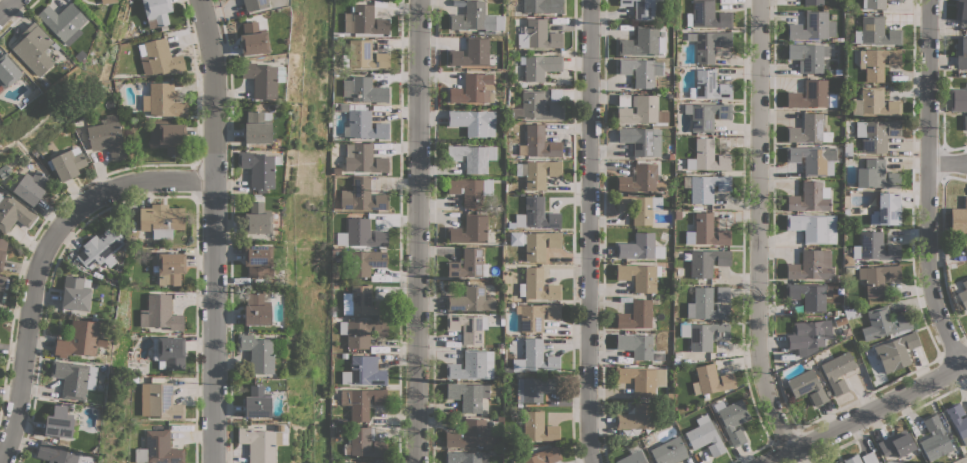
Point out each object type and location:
building: (107, 1)
building: (812, 2)
building: (625, 3)
building: (254, 4)
building: (874, 4)
building: (543, 6)
building: (644, 10)
building: (961, 10)
road: (12, 12)
building: (156, 12)
building: (707, 15)
building: (475, 19)
building: (365, 20)
building: (62, 22)
building: (812, 26)
building: (876, 32)
building: (539, 35)
building: (252, 39)
building: (642, 42)
building: (709, 44)
building: (33, 49)
building: (471, 52)
building: (961, 53)
building: (364, 55)
building: (808, 56)
building: (158, 57)
building: (876, 62)
building: (539, 67)
building: (7, 71)
building: (641, 71)
building: (262, 79)
building: (709, 86)
building: (472, 89)
building: (364, 90)
building: (555, 95)
building: (809, 95)
building: (958, 100)
building: (162, 101)
building: (875, 103)
building: (536, 107)
building: (639, 109)
building: (706, 115)
building: (474, 122)
building: (965, 122)
building: (363, 125)
building: (257, 127)
building: (808, 130)
building: (876, 134)
building: (167, 135)
building: (107, 137)
building: (639, 139)
building: (538, 143)
building: (707, 156)
building: (472, 157)
building: (364, 158)
building: (813, 159)
building: (67, 163)
road: (950, 166)
building: (258, 168)
building: (540, 173)
building: (876, 175)
building: (641, 179)
road: (933, 186)
building: (31, 187)
building: (705, 187)
building: (471, 190)
building: (361, 196)
building: (809, 197)
building: (639, 207)
building: (886, 209)
building: (13, 213)
building: (536, 215)
building: (256, 218)
building: (959, 218)
building: (161, 220)
road: (759, 226)
building: (812, 226)
building: (469, 229)
road: (216, 230)
road: (419, 231)
building: (706, 231)
road: (590, 232)
building: (361, 234)
building: (538, 244)
building: (640, 247)
building: (99, 248)
building: (871, 248)
building: (2, 250)
building: (257, 261)
building: (364, 261)
road: (44, 262)
building: (707, 262)
building: (467, 264)
building: (811, 266)
building: (170, 268)
building: (638, 277)
building: (878, 278)
building: (2, 282)
building: (539, 285)
building: (722, 293)
building: (75, 294)
building: (963, 294)
building: (807, 295)
building: (470, 300)
building: (362, 301)
building: (706, 305)
building: (255, 310)
building: (160, 313)
building: (635, 315)
building: (536, 316)
building: (884, 323)
building: (466, 327)
building: (361, 332)
building: (703, 334)
building: (808, 334)
building: (80, 339)
building: (635, 345)
building: (171, 352)
building: (895, 352)
building: (256, 353)
building: (534, 357)
building: (472, 365)
building: (364, 371)
building: (838, 371)
building: (73, 378)
building: (642, 379)
building: (711, 380)
building: (807, 387)
building: (534, 388)
building: (468, 396)
building: (160, 401)
building: (362, 401)
building: (256, 402)
road: (865, 412)
building: (636, 417)
building: (732, 419)
building: (957, 420)
building: (58, 422)
building: (538, 427)
building: (471, 435)
building: (704, 436)
building: (933, 438)
building: (259, 444)
building: (364, 444)
building: (895, 445)
building: (159, 449)
building: (670, 451)
building: (54, 454)
building: (541, 456)
building: (461, 457)
building: (633, 458)
building: (868, 458)
building: (851, 459)
building: (359, 462)
building: (384, 462)
building: (837, 462)
building: (838, 462)

